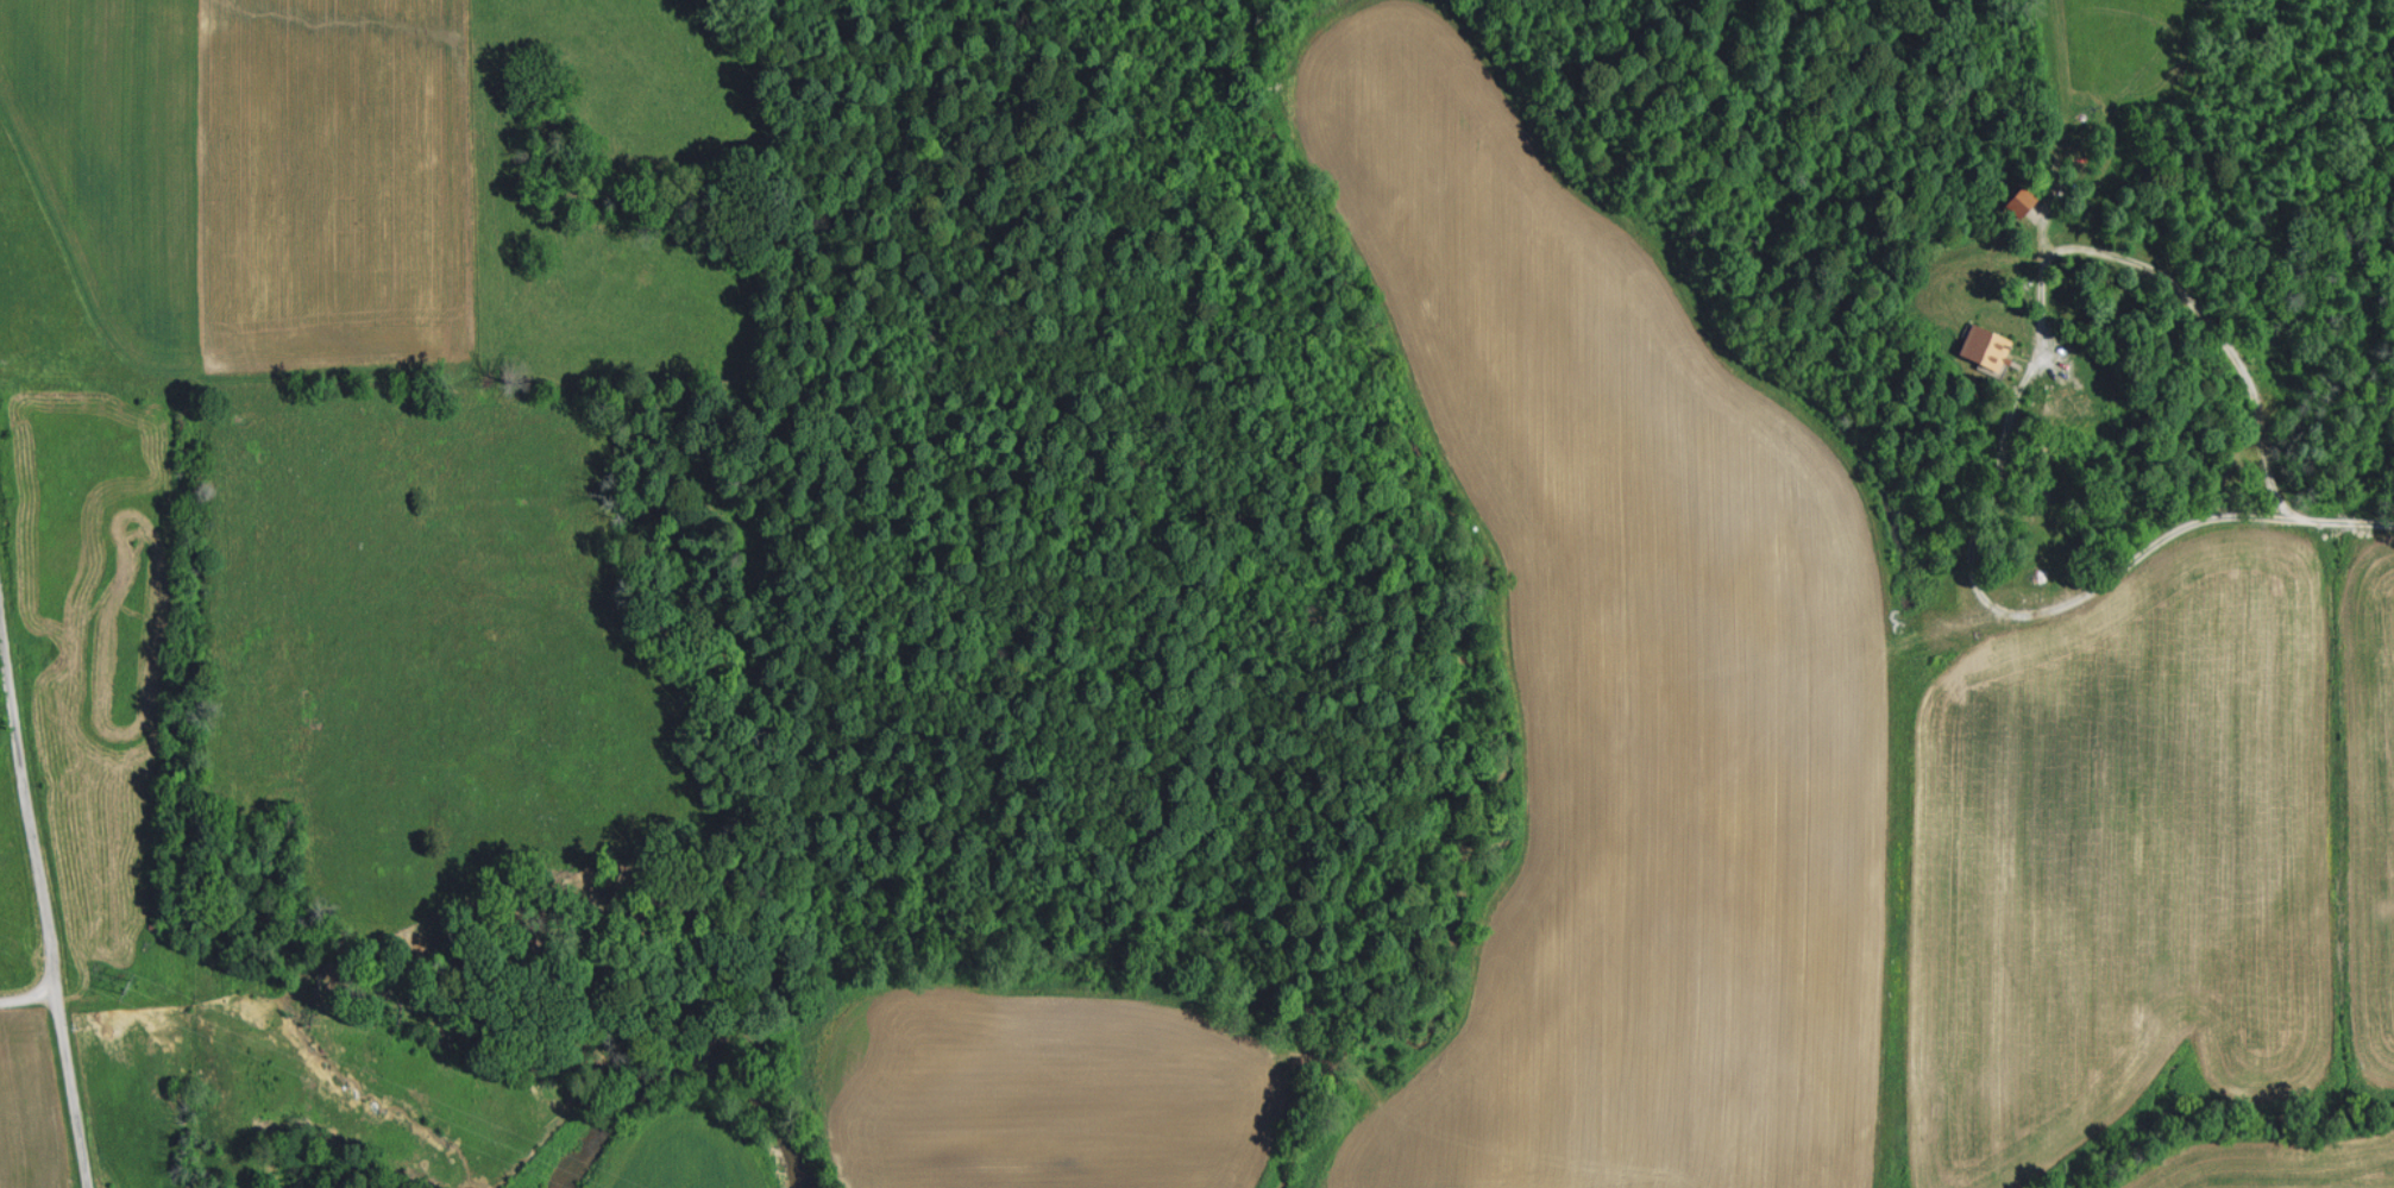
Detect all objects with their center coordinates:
building: (2022, 200)
building: (1991, 345)
road: (1996, 396)
road: (2332, 518)
road: (49, 941)
power tower: (126, 987)
road: (27, 997)

